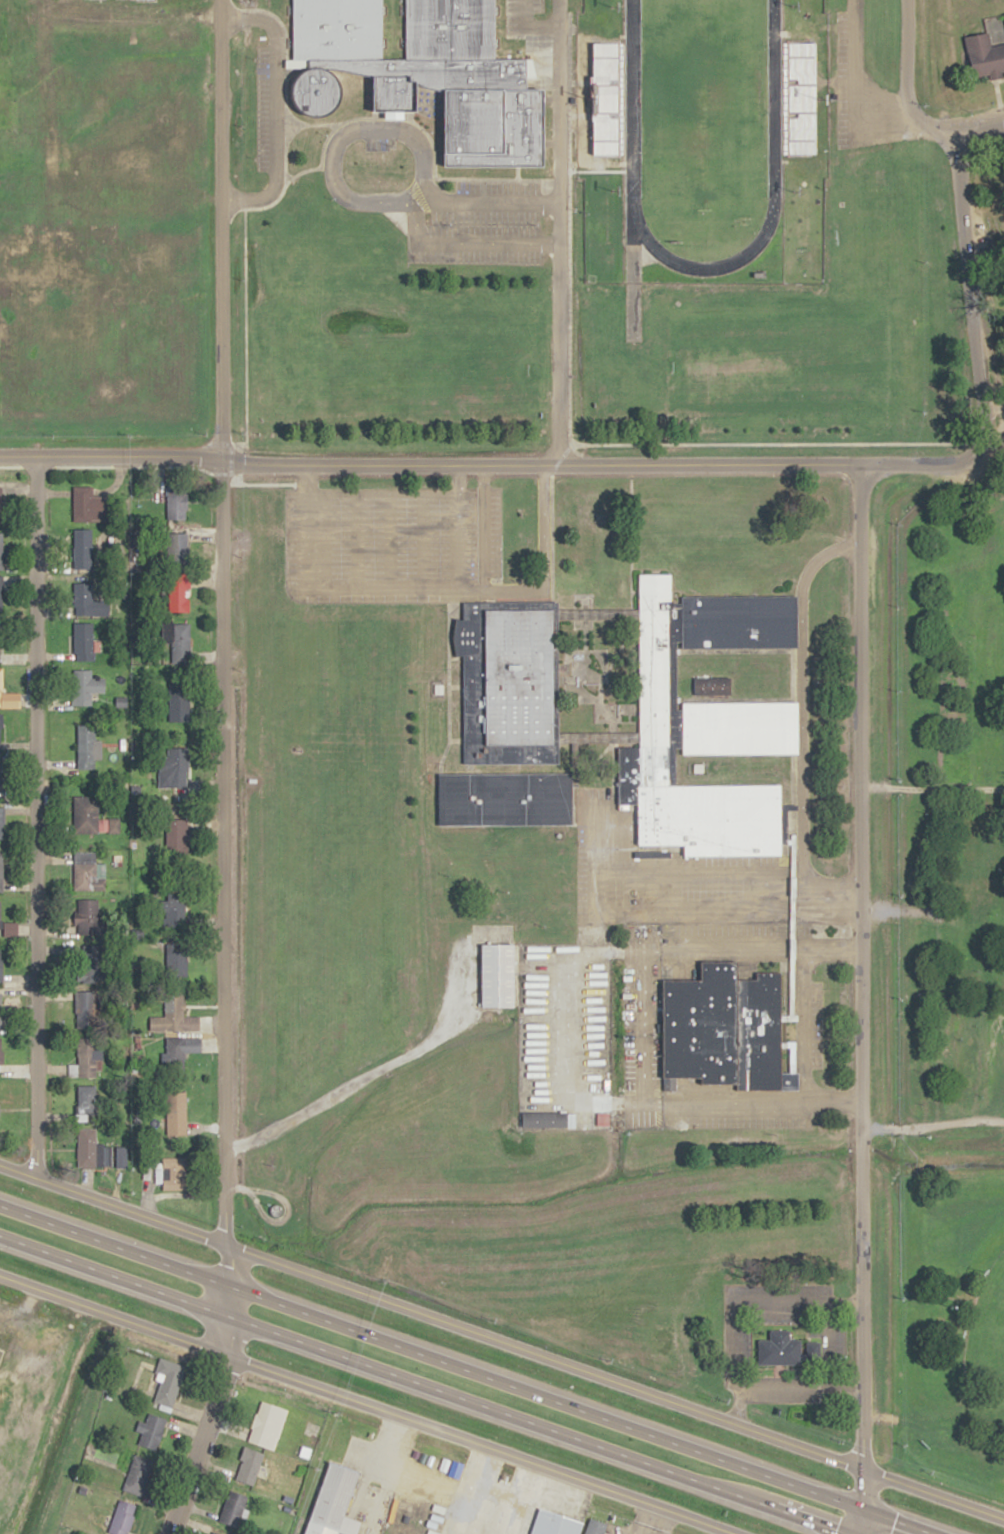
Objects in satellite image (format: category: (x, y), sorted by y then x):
parking lot: (535, 5)
street lamp: (789, 5)
street lamp: (609, 6)
park: (974, 6)
parking lot: (509, 18)
road: (528, 25)
road: (607, 25)
road: (567, 26)
building: (988, 48)
road: (905, 51)
road: (567, 59)
building: (428, 74)
parking lot: (839, 80)
road: (994, 87)
road: (854, 93)
street lamp: (593, 98)
stadium: (608, 98)
stadium: (798, 98)
street lamp: (818, 99)
road: (567, 104)
park: (699, 104)
parking lot: (260, 108)
road: (274, 109)
road: (284, 110)
road: (931, 122)
track: (700, 130)
road: (980, 133)
road: (326, 138)
parking lot: (378, 144)
road: (567, 145)
road: (332, 153)
road: (432, 167)
road: (516, 171)
parking lot: (497, 186)
street lamp: (609, 191)
street lamp: (790, 191)
road: (418, 203)
parking lot: (483, 223)
road: (557, 231)
parking lot: (472, 257)
road: (567, 312)
road: (243, 332)
road: (966, 356)
road: (430, 462)
road: (306, 467)
road: (395, 493)
building: (176, 503)
building: (83, 504)
road: (481, 527)
road: (550, 538)
road: (354, 539)
road: (387, 539)
road: (422, 539)
road: (456, 539)
road: (628, 543)
parking lot: (403, 545)
building: (81, 548)
building: (177, 549)
building: (1, 551)
road: (430, 586)
building: (178, 592)
building: (0, 594)
building: (82, 599)
road: (599, 614)
building: (83, 642)
road: (453, 657)
road: (790, 674)
park: (599, 675)
road: (448, 682)
building: (509, 682)
building: (85, 686)
road: (456, 686)
building: (709, 686)
building: (0, 687)
building: (437, 688)
building: (175, 708)
road: (801, 719)
building: (706, 724)
building: (0, 737)
road: (600, 737)
road: (456, 739)
building: (85, 747)
road: (570, 755)
road: (613, 761)
building: (177, 766)
building: (695, 768)
road: (220, 772)
building: (1, 776)
building: (506, 798)
building: (85, 813)
road: (28, 818)
building: (1, 822)
building: (176, 835)
building: (1, 871)
building: (87, 872)
road: (712, 872)
road: (793, 889)
road: (804, 889)
road: (609, 906)
road: (811, 906)
building: (90, 918)
parking lot: (631, 948)
park: (943, 953)
building: (175, 962)
building: (0, 964)
building: (89, 964)
road: (859, 966)
building: (499, 974)
building: (1, 1010)
building: (86, 1010)
building: (174, 1016)
road: (804, 1023)
parking lot: (816, 1023)
road: (565, 1025)
road: (645, 1025)
building: (725, 1029)
building: (0, 1051)
building: (180, 1051)
building: (86, 1057)
road: (373, 1070)
building: (87, 1103)
building: (176, 1113)
parking lot: (716, 1119)
building: (544, 1120)
building: (594, 1120)
road: (932, 1127)
building: (86, 1148)
building: (119, 1157)
building: (172, 1173)
road: (284, 1207)
building: (274, 1211)
road: (734, 1302)
parking lot: (780, 1317)
park: (985, 1326)
road: (838, 1342)
road: (502, 1344)
parking lot: (745, 1344)
building: (788, 1349)
road: (468, 1370)
building: (168, 1381)
road: (417, 1385)
road: (799, 1385)
parking lot: (785, 1396)
road: (362, 1406)
building: (267, 1424)
building: (151, 1431)
building: (248, 1465)
building: (138, 1475)
road: (861, 1501)
building: (334, 1502)
building: (233, 1507)
traffic signals: (861, 1508)
building: (122, 1517)
building: (555, 1523)
building: (595, 1526)
building: (214, 1533)

